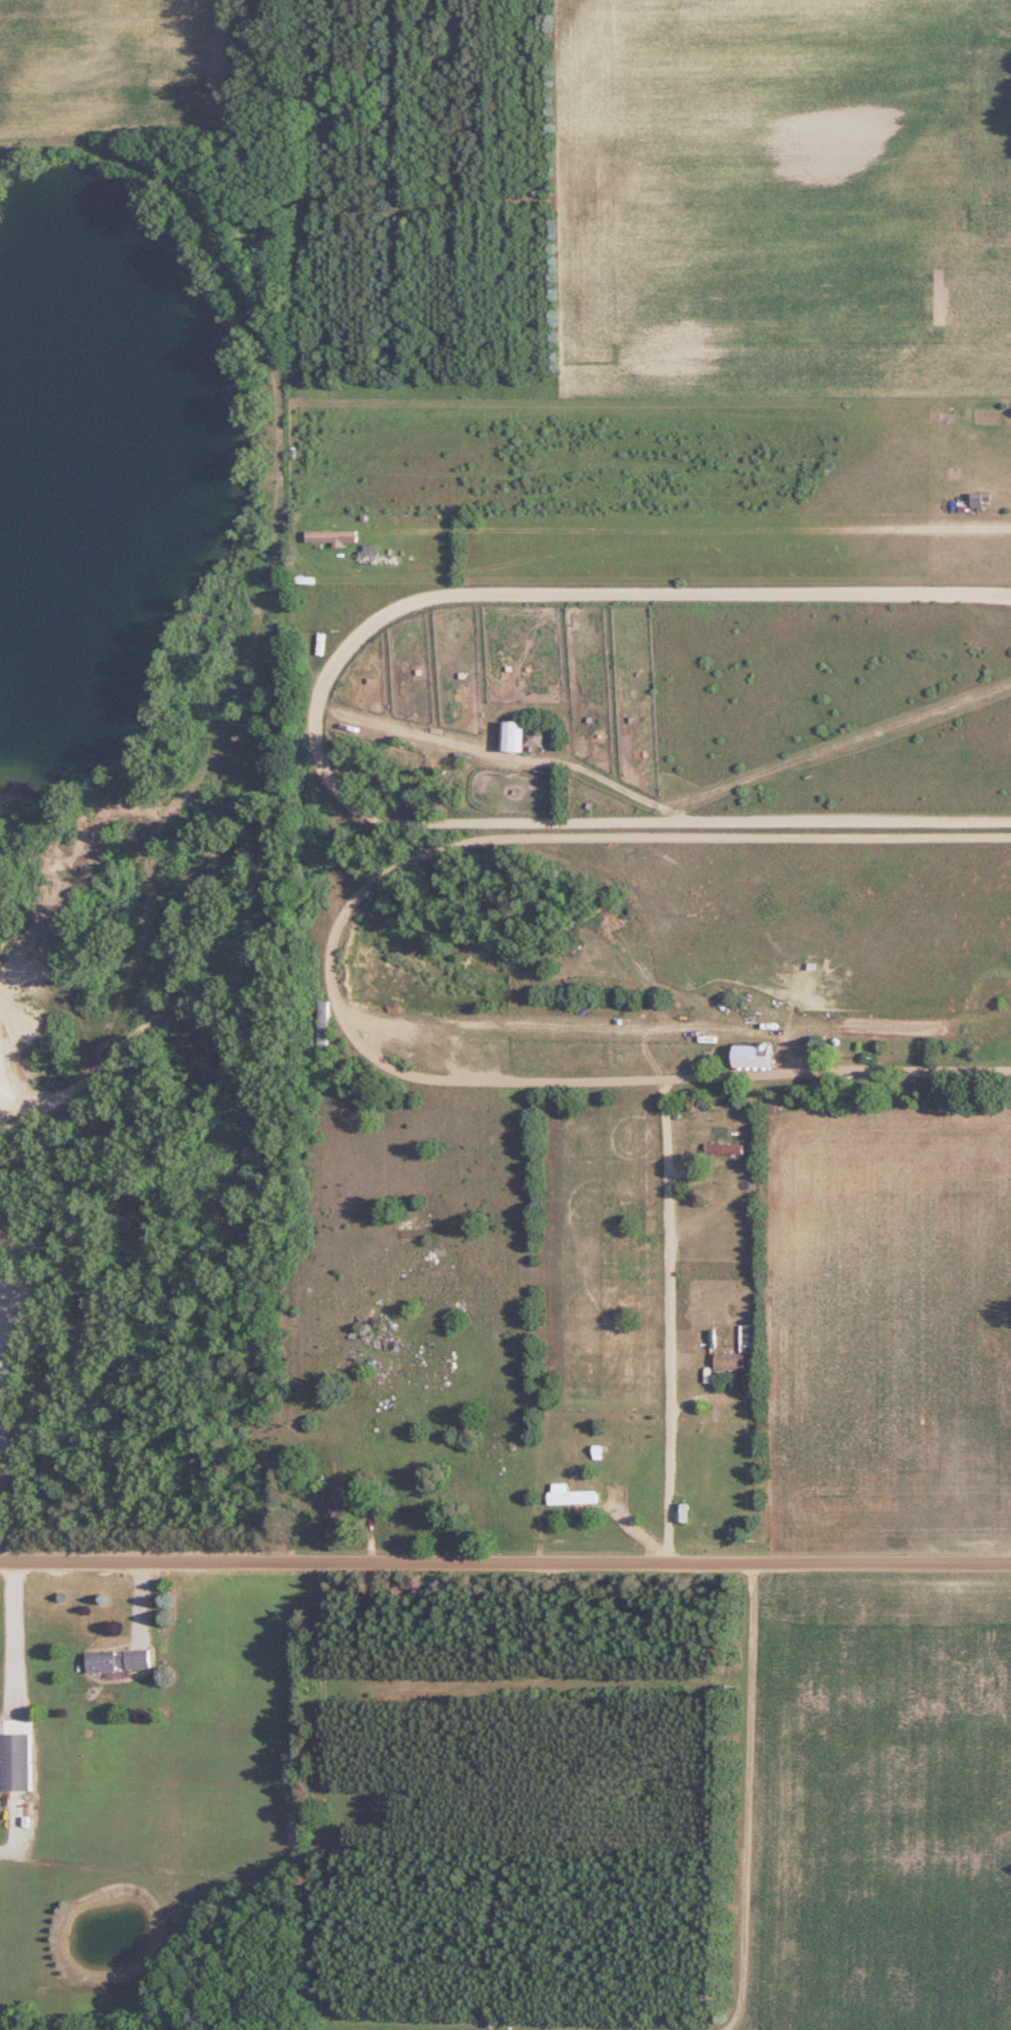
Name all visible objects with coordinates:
building: (980, 500)
building: (658, 521)
road: (699, 526)
building: (331, 537)
building: (375, 557)
building: (518, 736)
road: (329, 964)
building: (323, 1024)
building: (751, 1055)
building: (719, 1148)
road: (661, 1319)
building: (729, 1361)
building: (340, 1500)
building: (681, 1513)
road: (505, 1562)
road: (15, 1650)
building: (118, 1660)
building: (15, 1763)

